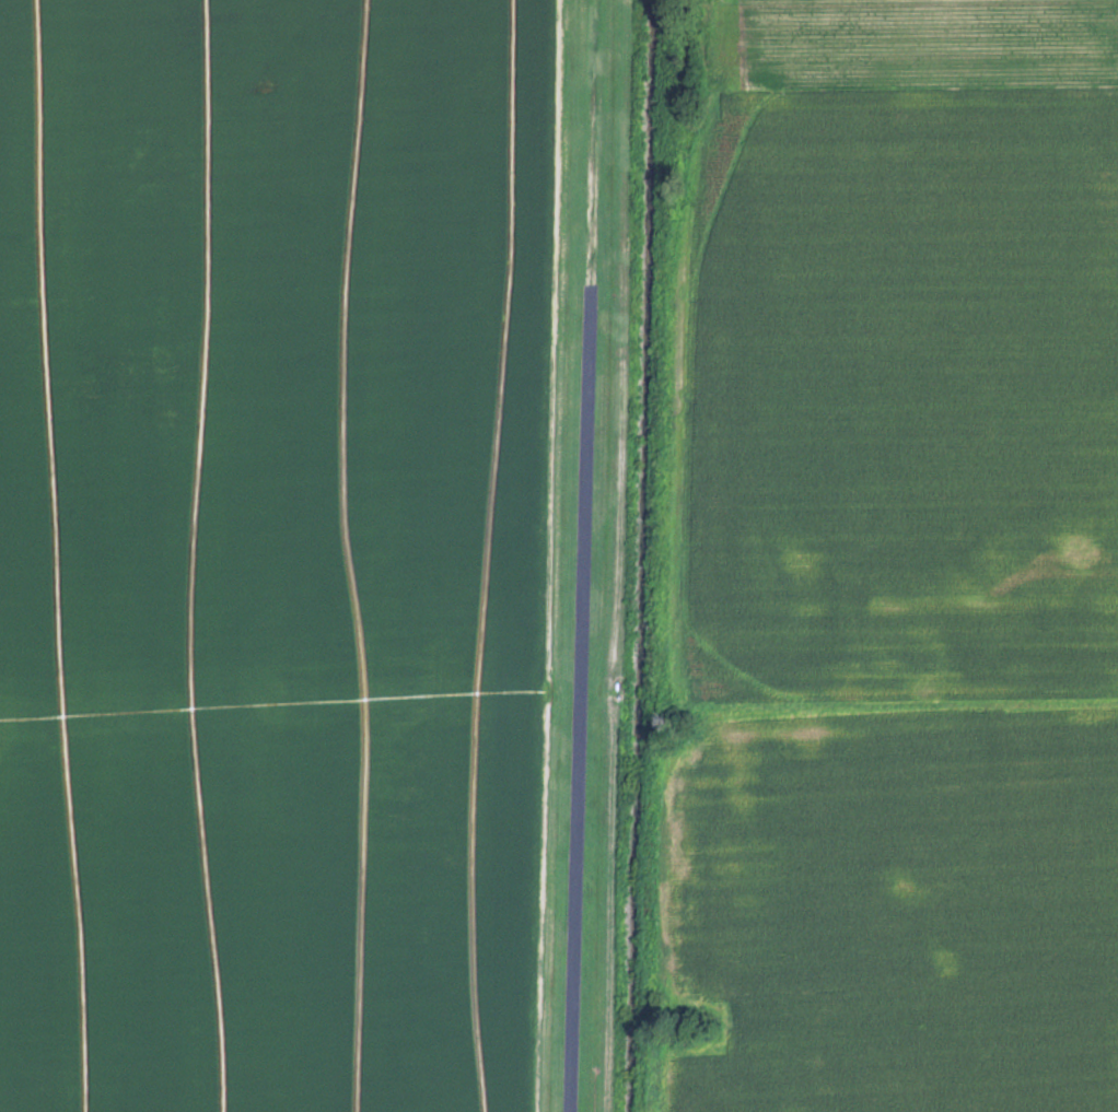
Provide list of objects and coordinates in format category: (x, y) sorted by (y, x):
road: (582, 555)

